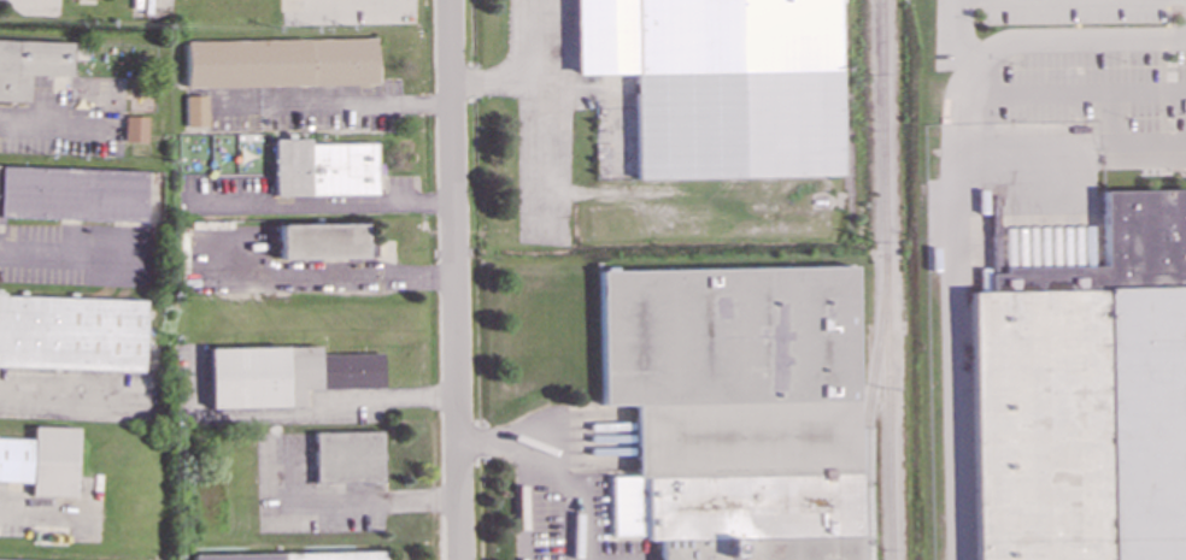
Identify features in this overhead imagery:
road: (350, 2)
road: (955, 34)
building: (280, 63)
building: (29, 64)
road: (497, 79)
building: (721, 82)
road: (541, 99)
road: (333, 106)
building: (195, 110)
railway: (849, 120)
road: (51, 128)
building: (134, 128)
railway: (883, 129)
road: (1071, 145)
building: (323, 167)
building: (71, 193)
road: (956, 202)
road: (322, 205)
building: (323, 241)
road: (75, 254)
road: (336, 275)
road: (456, 279)
building: (70, 332)
building: (286, 375)
building: (336, 395)
road: (69, 396)
railway: (869, 408)
railway: (888, 408)
building: (734, 409)
road: (296, 414)
building: (347, 456)
road: (557, 458)
building: (40, 460)
road: (522, 499)
road: (371, 500)
road: (41, 511)
building: (295, 555)
building: (0, 559)

